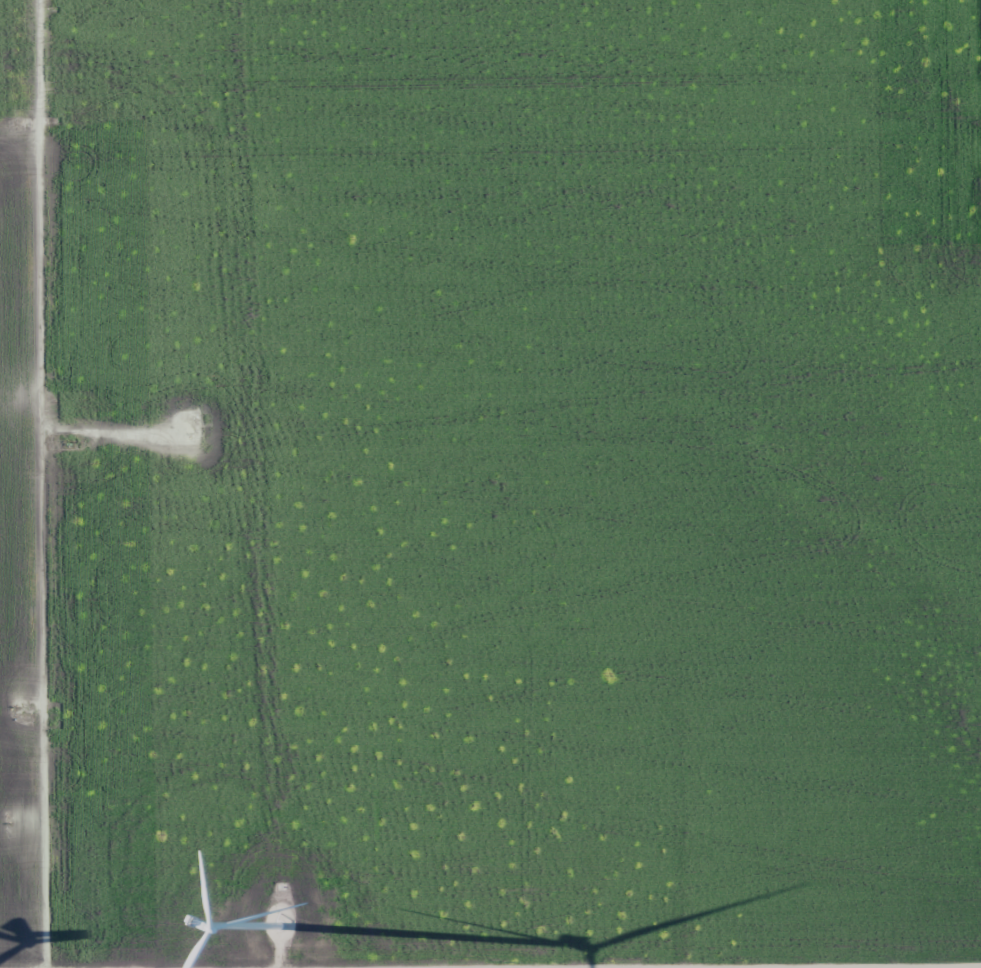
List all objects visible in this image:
road: (49, 484)
wind turbine: (277, 929)

